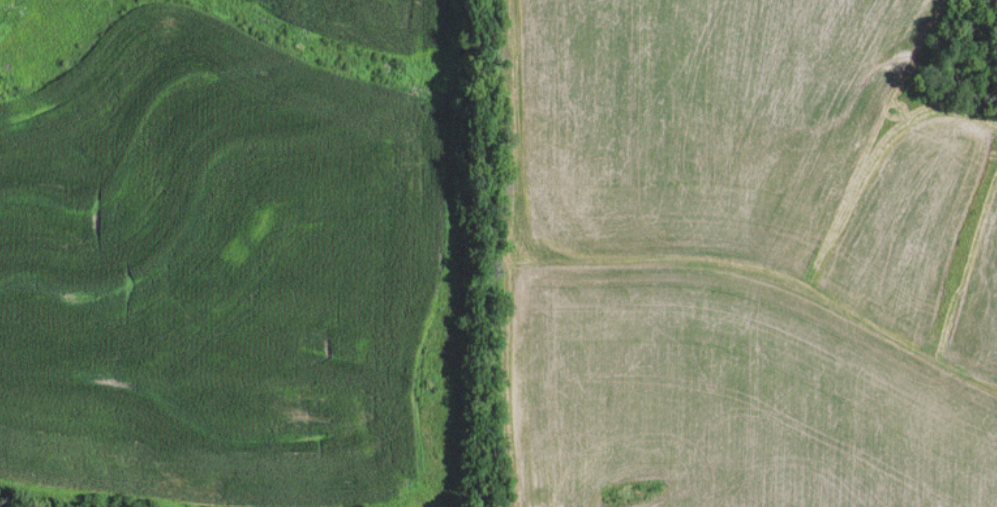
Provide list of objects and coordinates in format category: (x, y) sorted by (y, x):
road: (517, 108)

